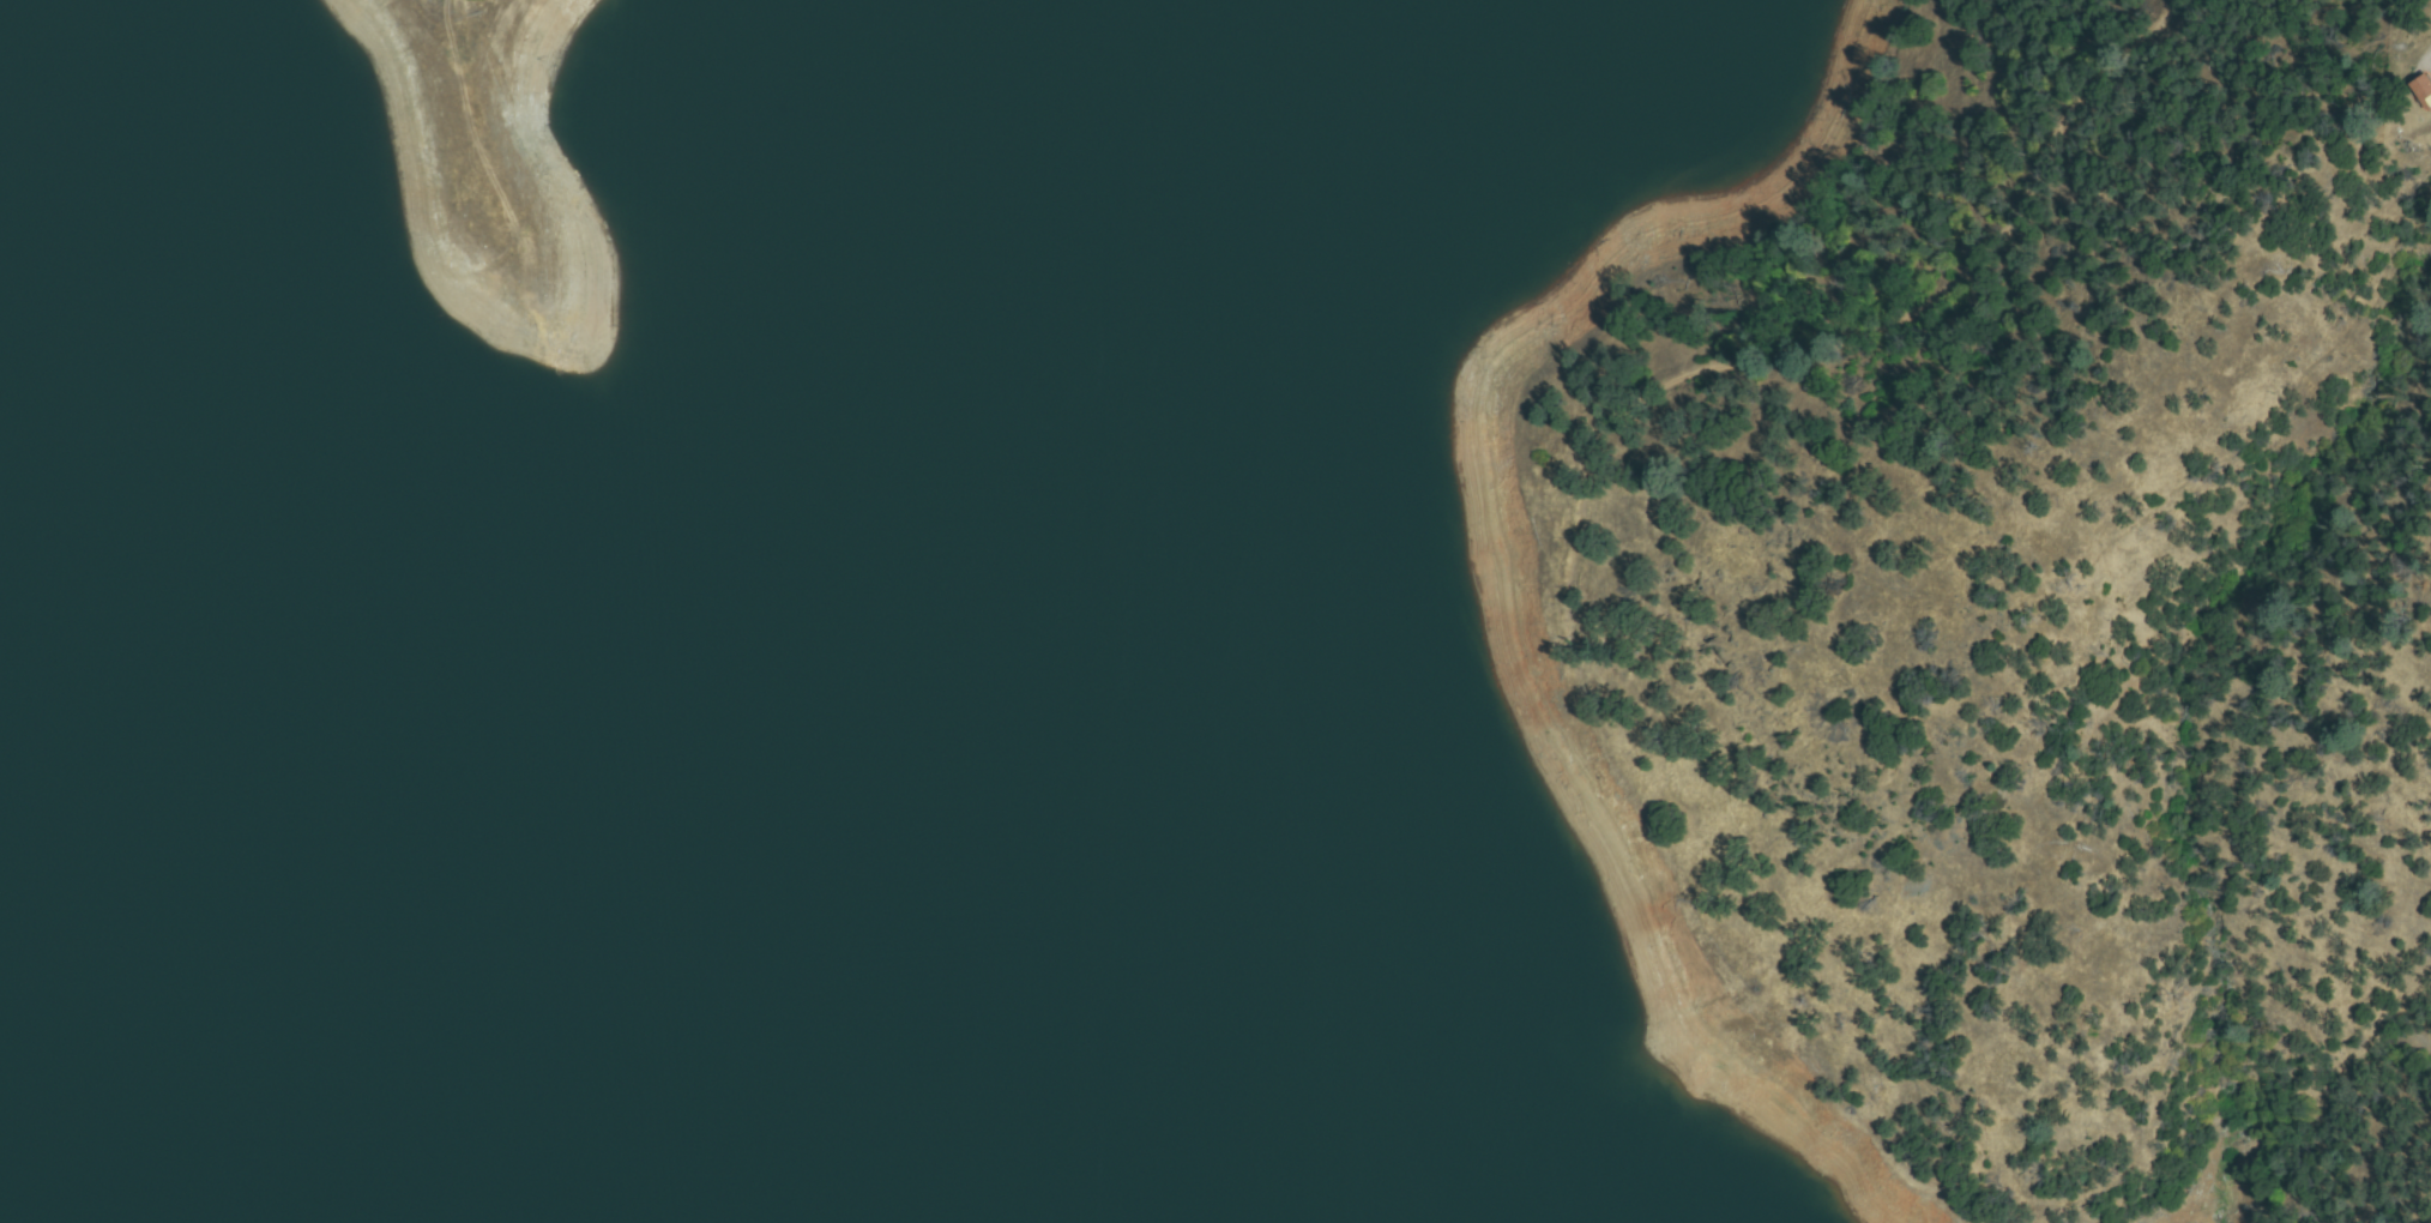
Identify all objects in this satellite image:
building: (2409, 90)
building: (2423, 90)

